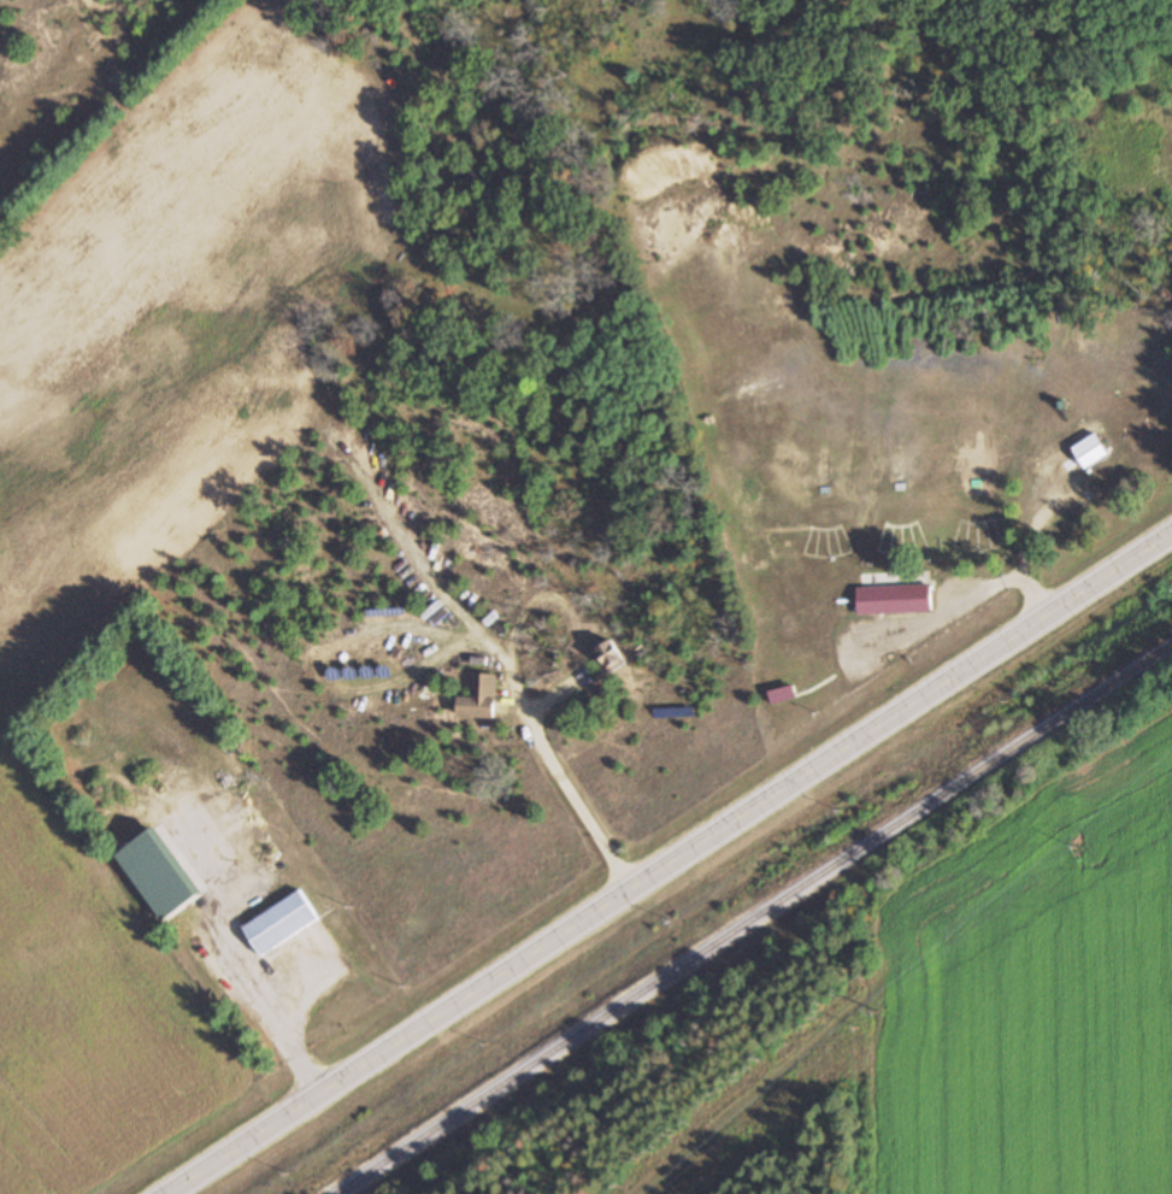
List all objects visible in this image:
building: (1090, 451)
building: (894, 600)
building: (609, 655)
building: (782, 695)
building: (478, 698)
road: (669, 863)
building: (160, 872)
railway: (753, 918)
building: (281, 922)

